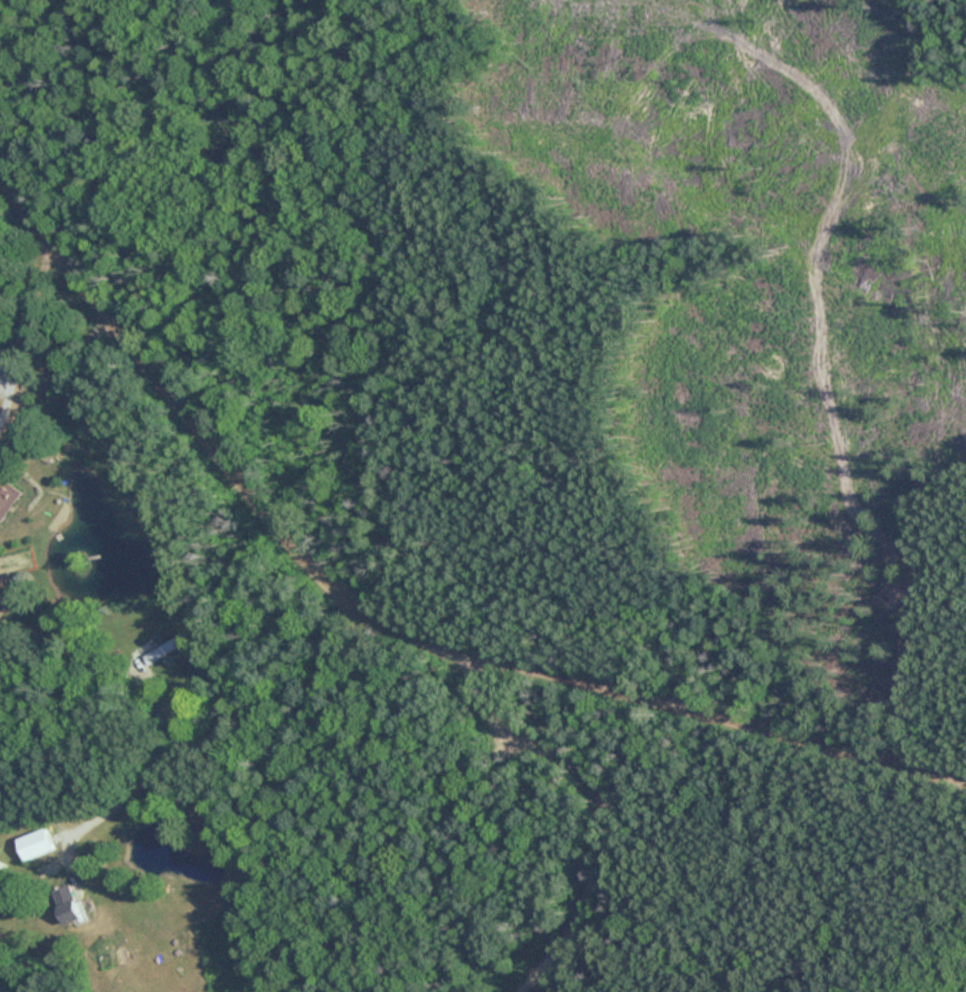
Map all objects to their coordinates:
park: (664, 494)
building: (7, 497)
road: (392, 627)
building: (163, 650)
road: (555, 792)
building: (34, 844)
building: (66, 903)
road: (517, 967)

